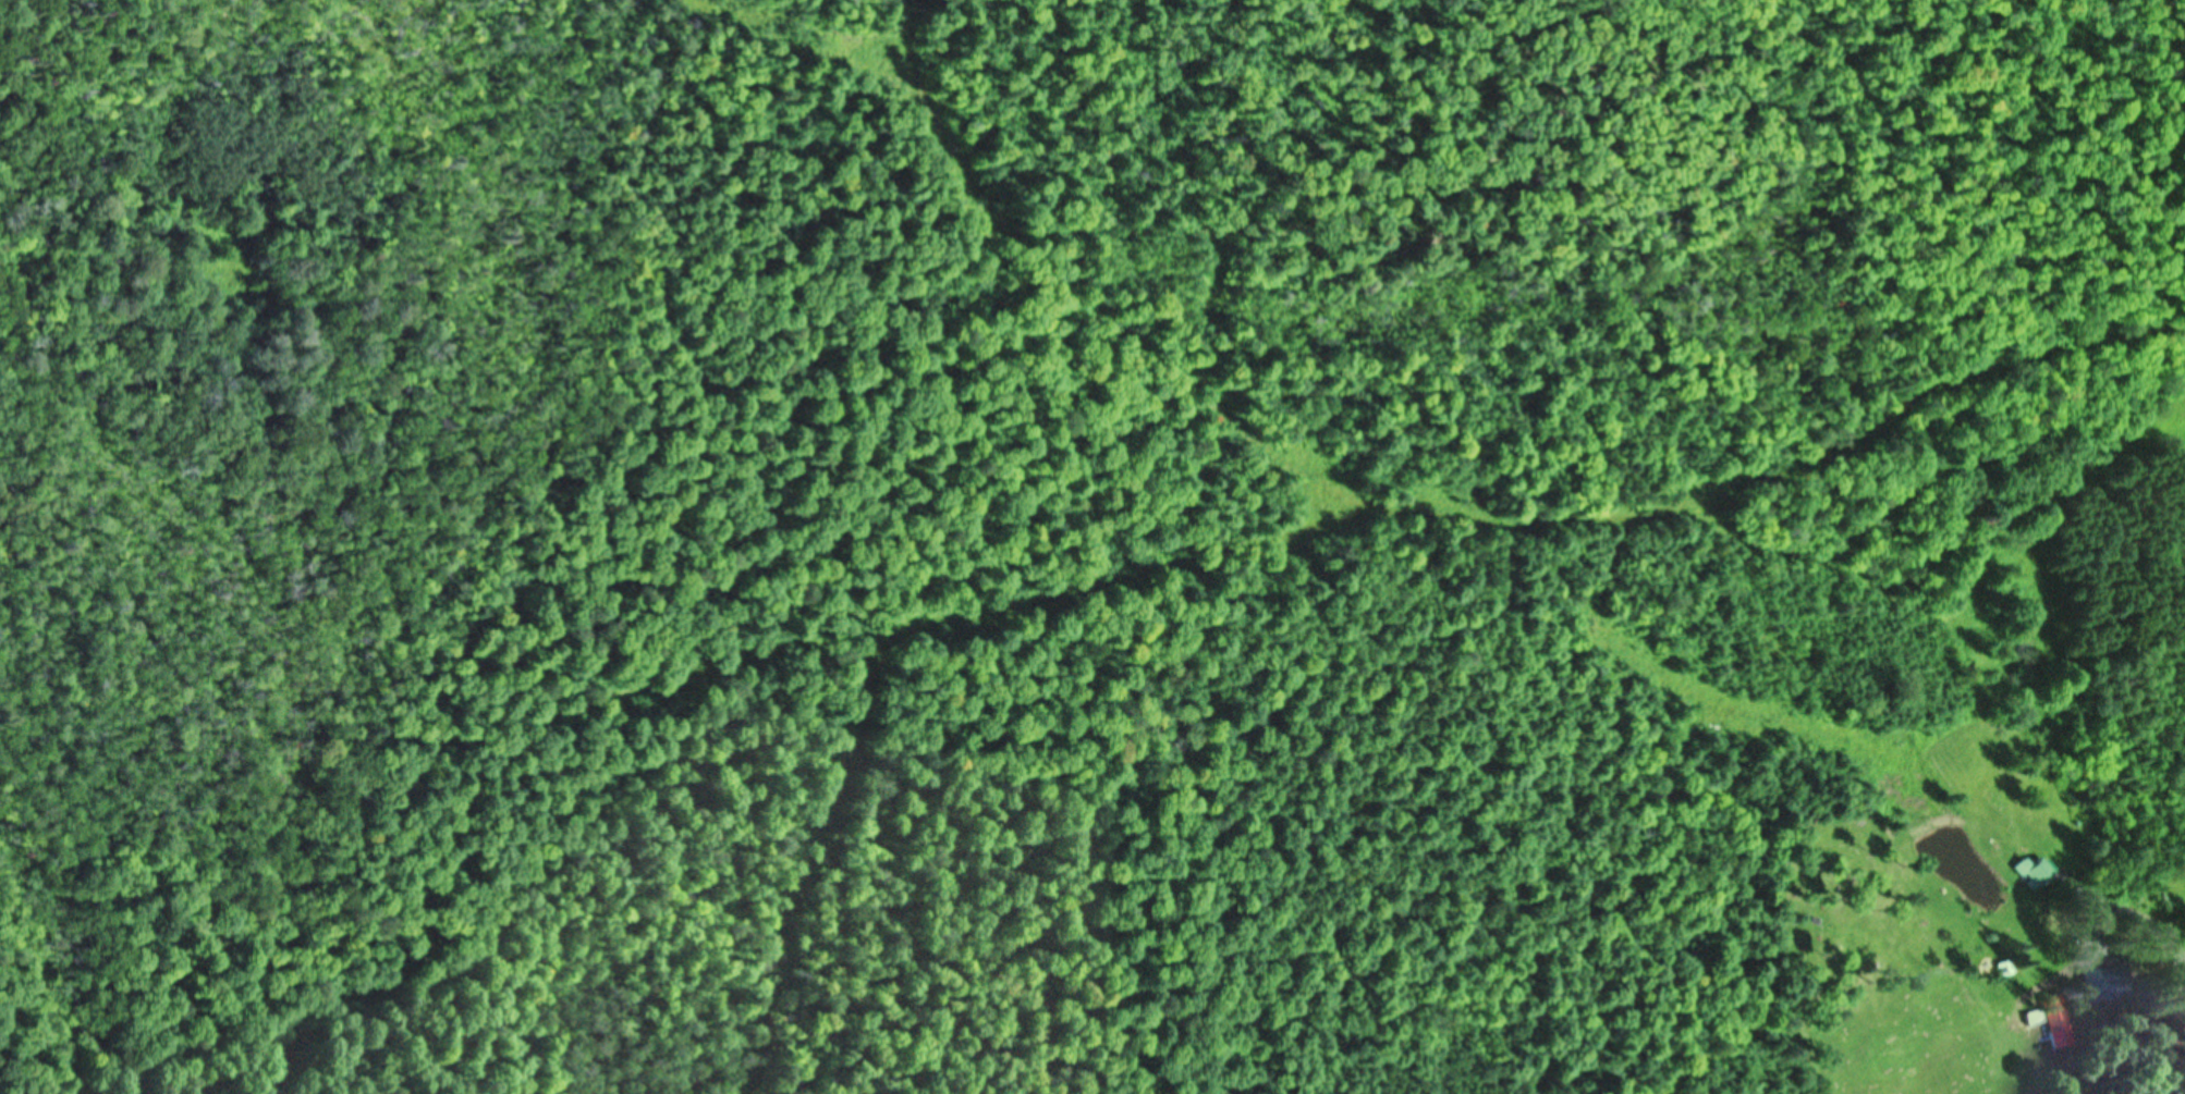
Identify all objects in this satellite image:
building: (2037, 875)
building: (2111, 986)
building: (2059, 1016)

